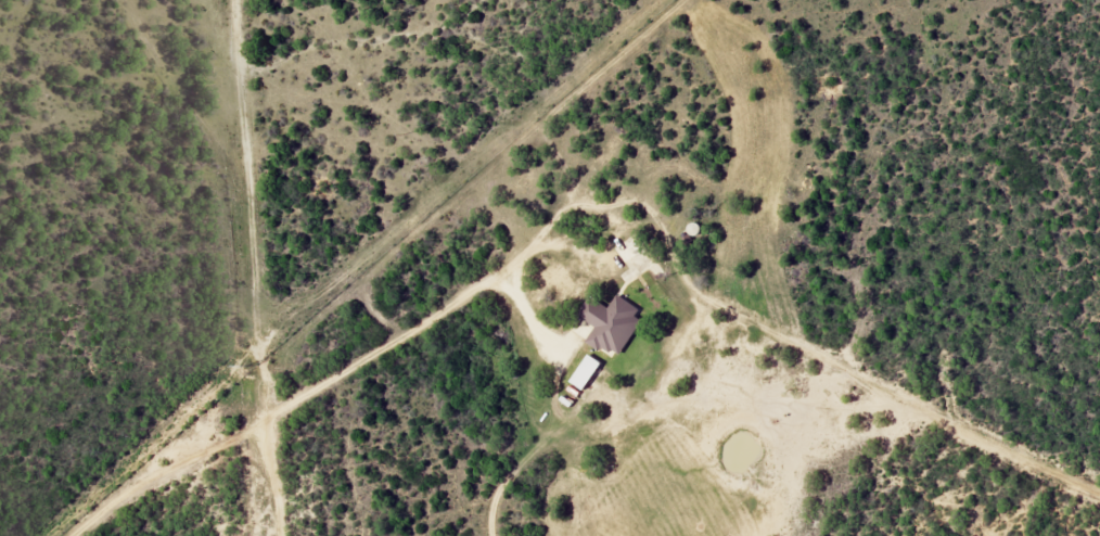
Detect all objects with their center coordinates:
road: (486, 176)
road: (256, 245)
building: (610, 324)
power tower: (247, 366)
building: (584, 373)
road: (909, 400)

